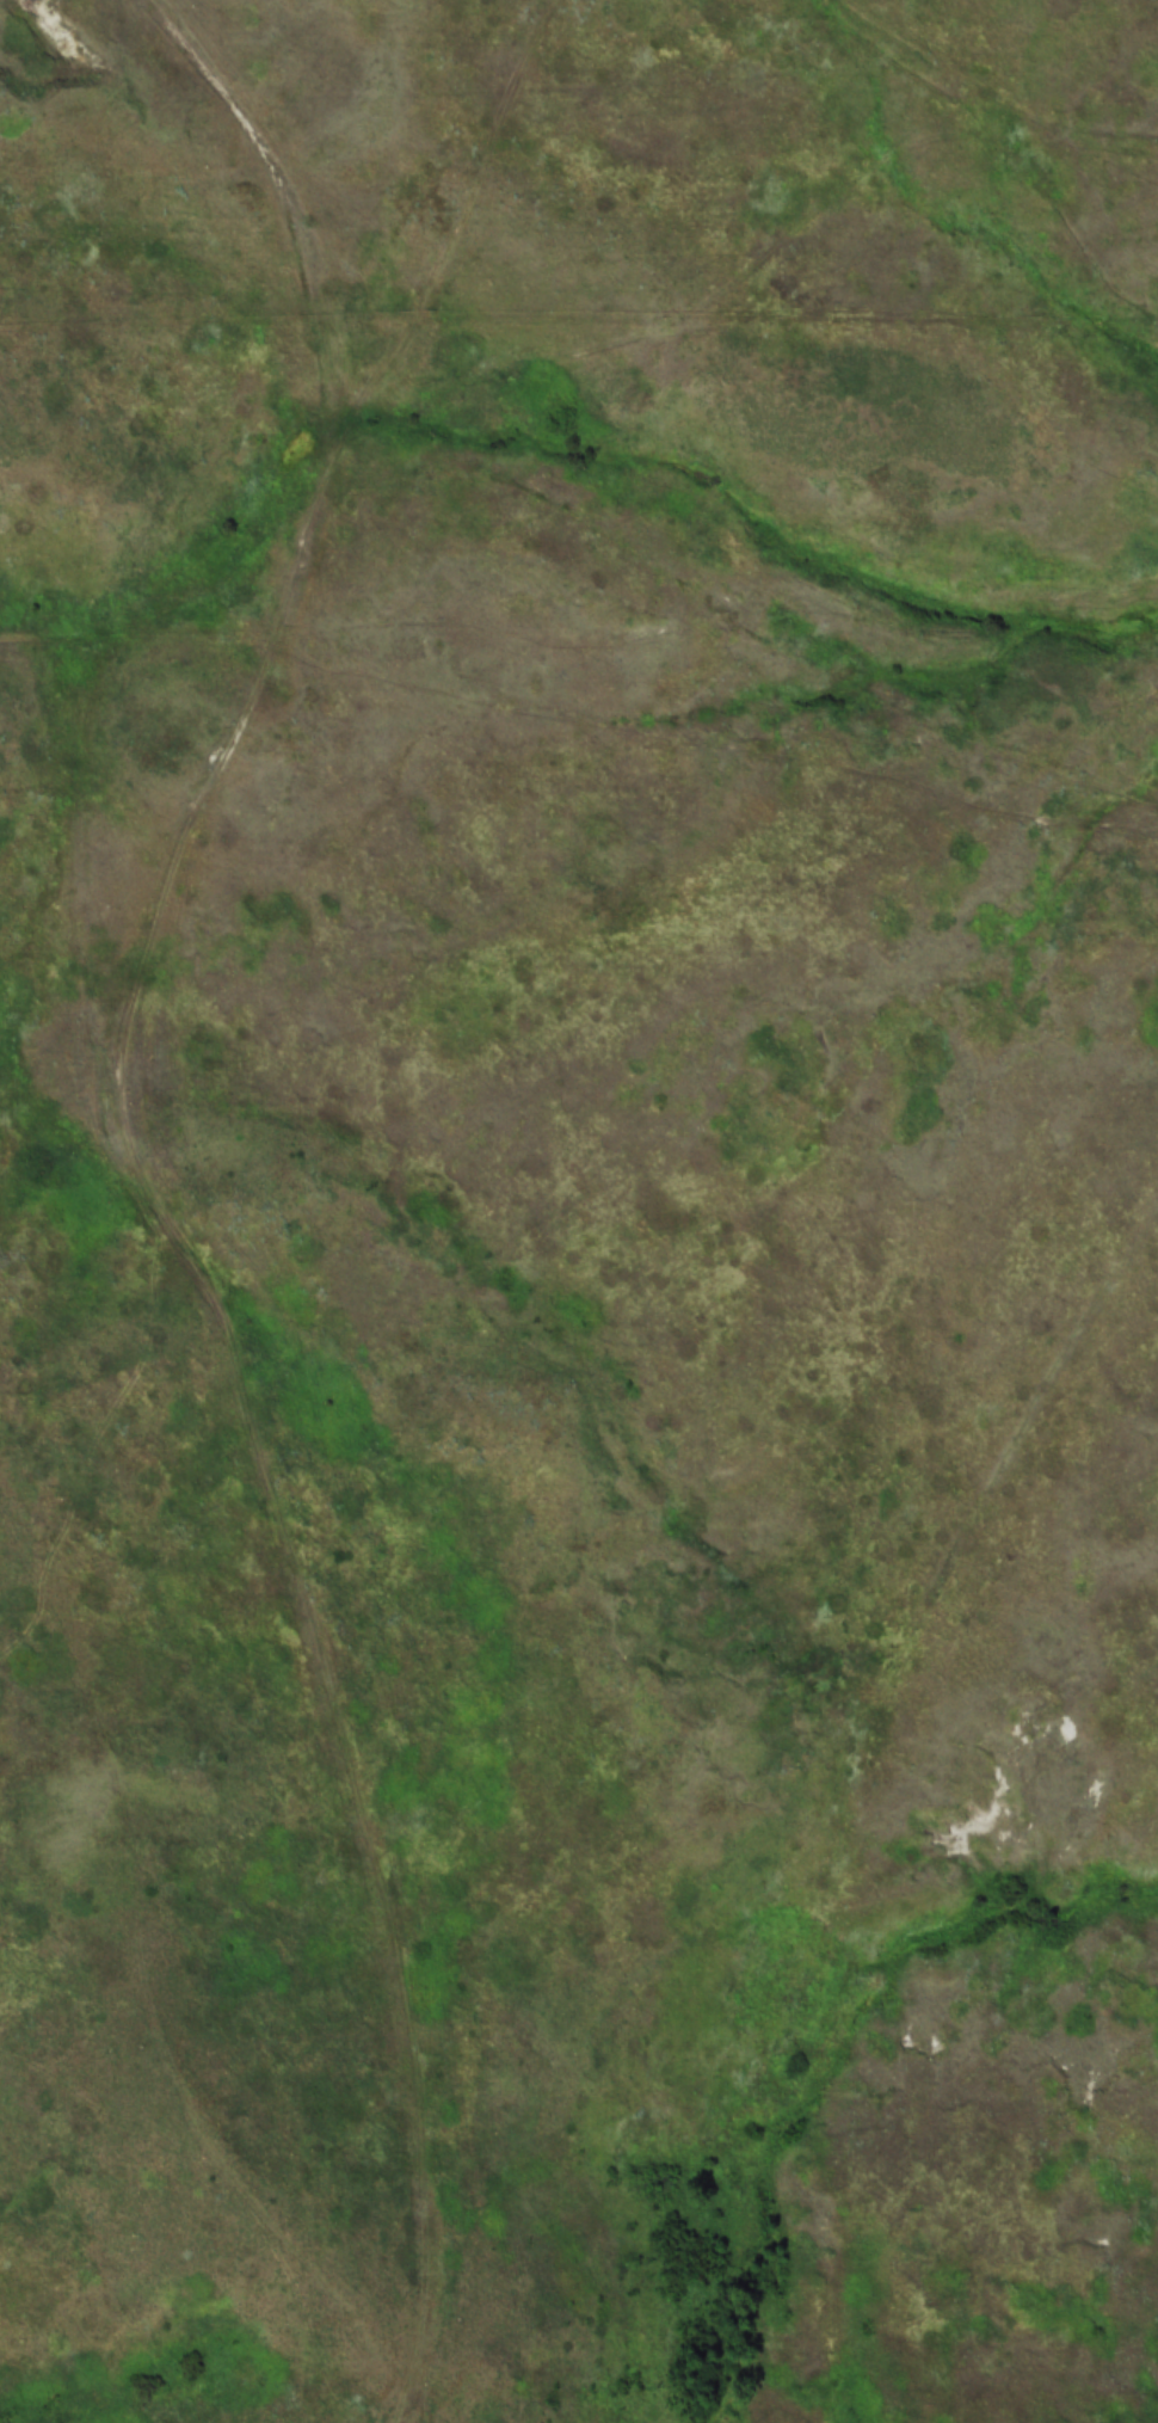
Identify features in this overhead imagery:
road: (367, 413)
road: (142, 1186)

